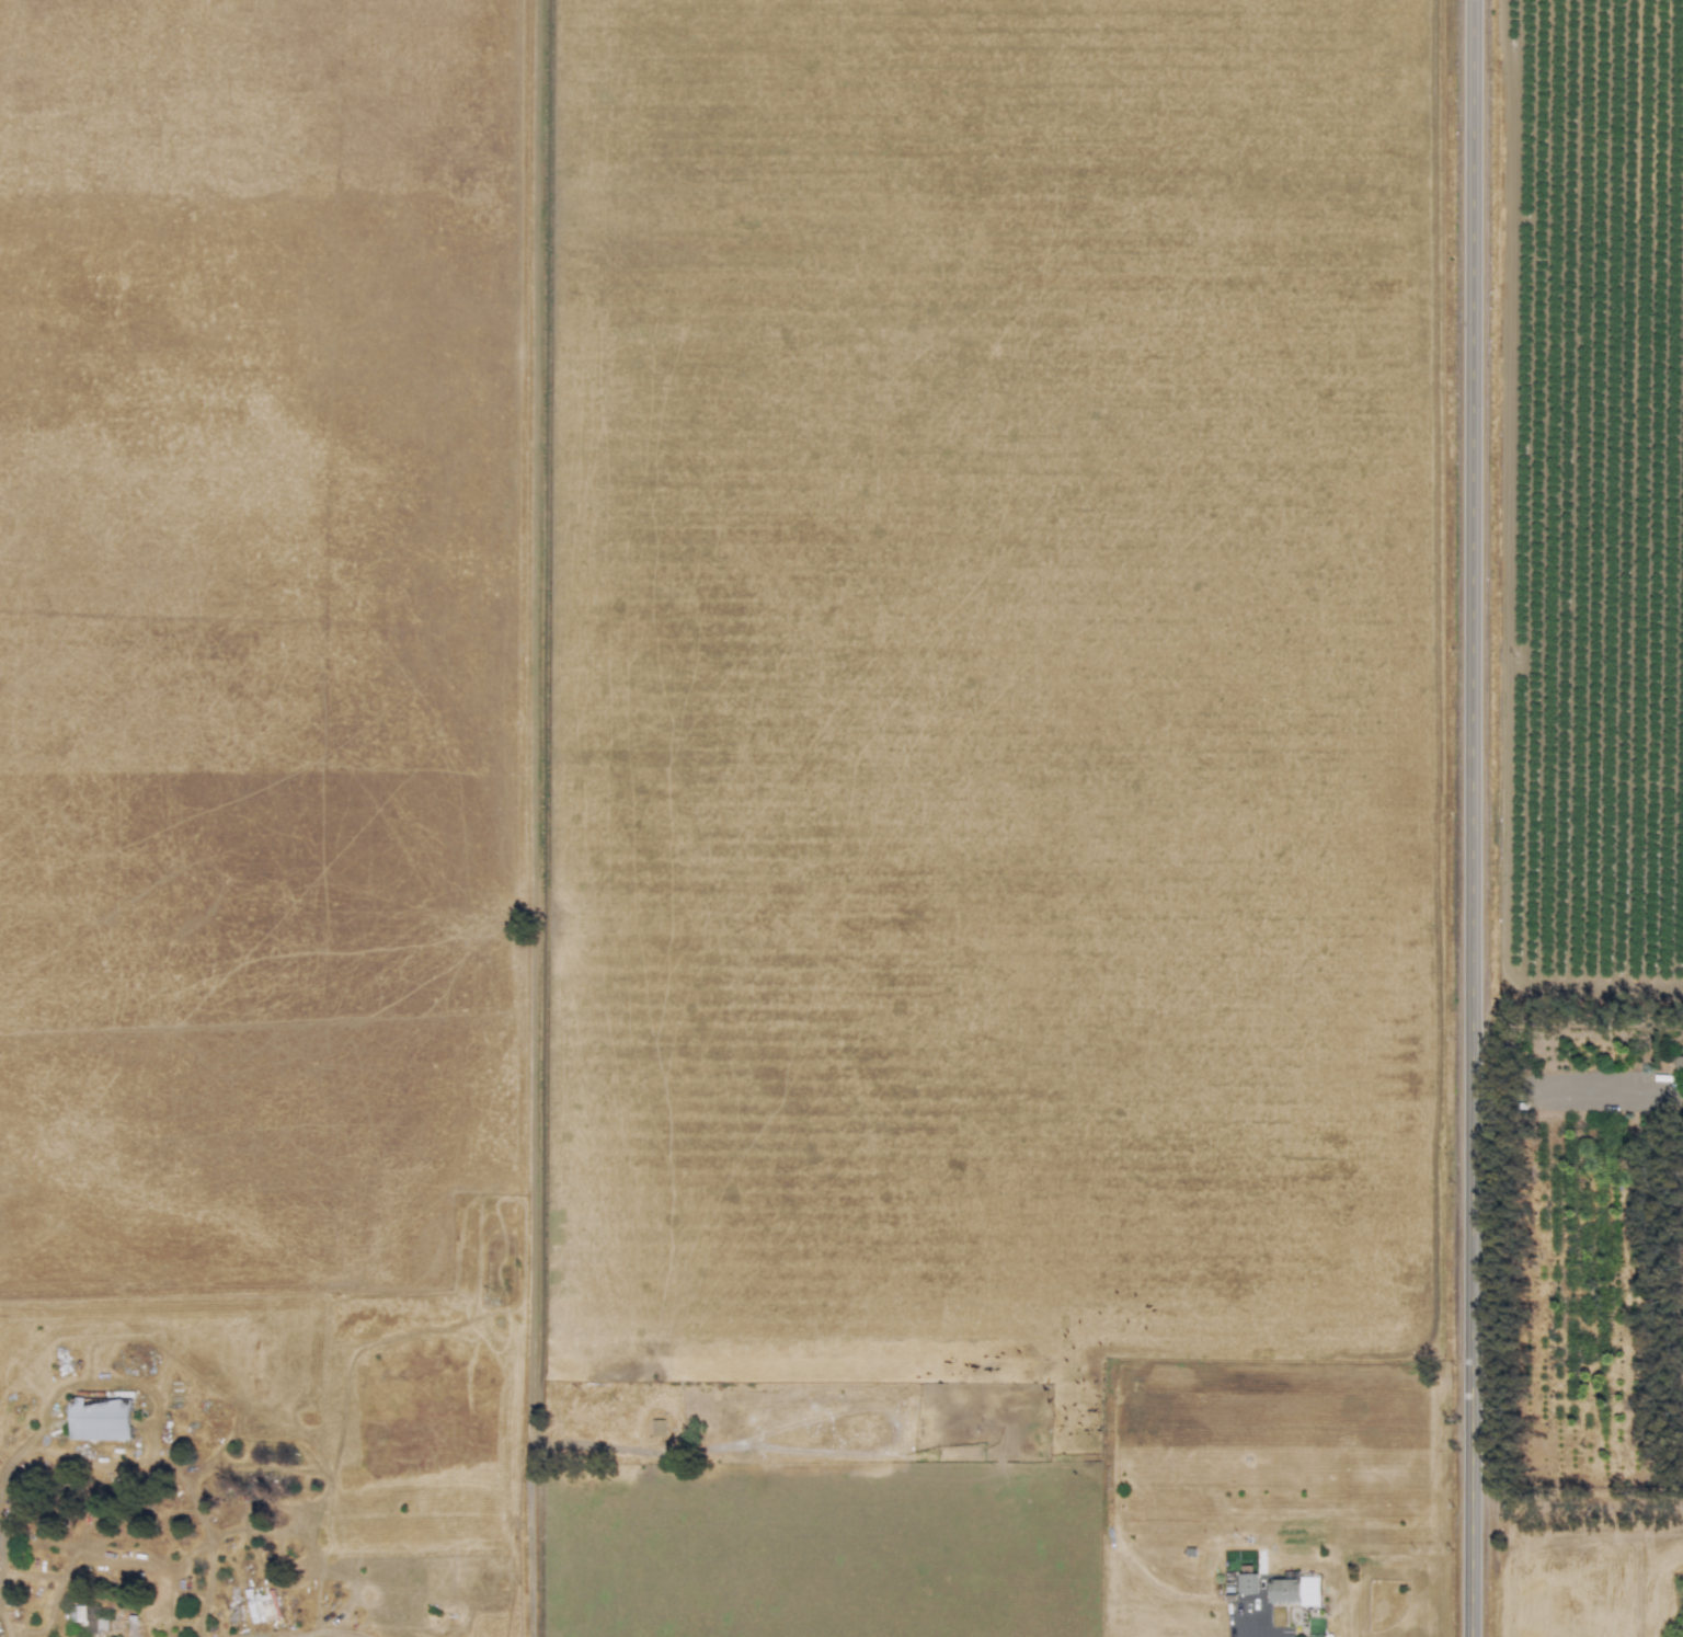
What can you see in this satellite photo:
road: (1467, 817)
building: (1678, 1065)
road: (1575, 1098)
building: (101, 1417)
building: (657, 1428)
road: (19, 1452)
road: (560, 1456)
road: (0, 1556)
building: (1245, 1583)
building: (1293, 1591)
building: (261, 1606)
road: (3, 1626)
road: (1267, 1630)
road: (309, 1633)

